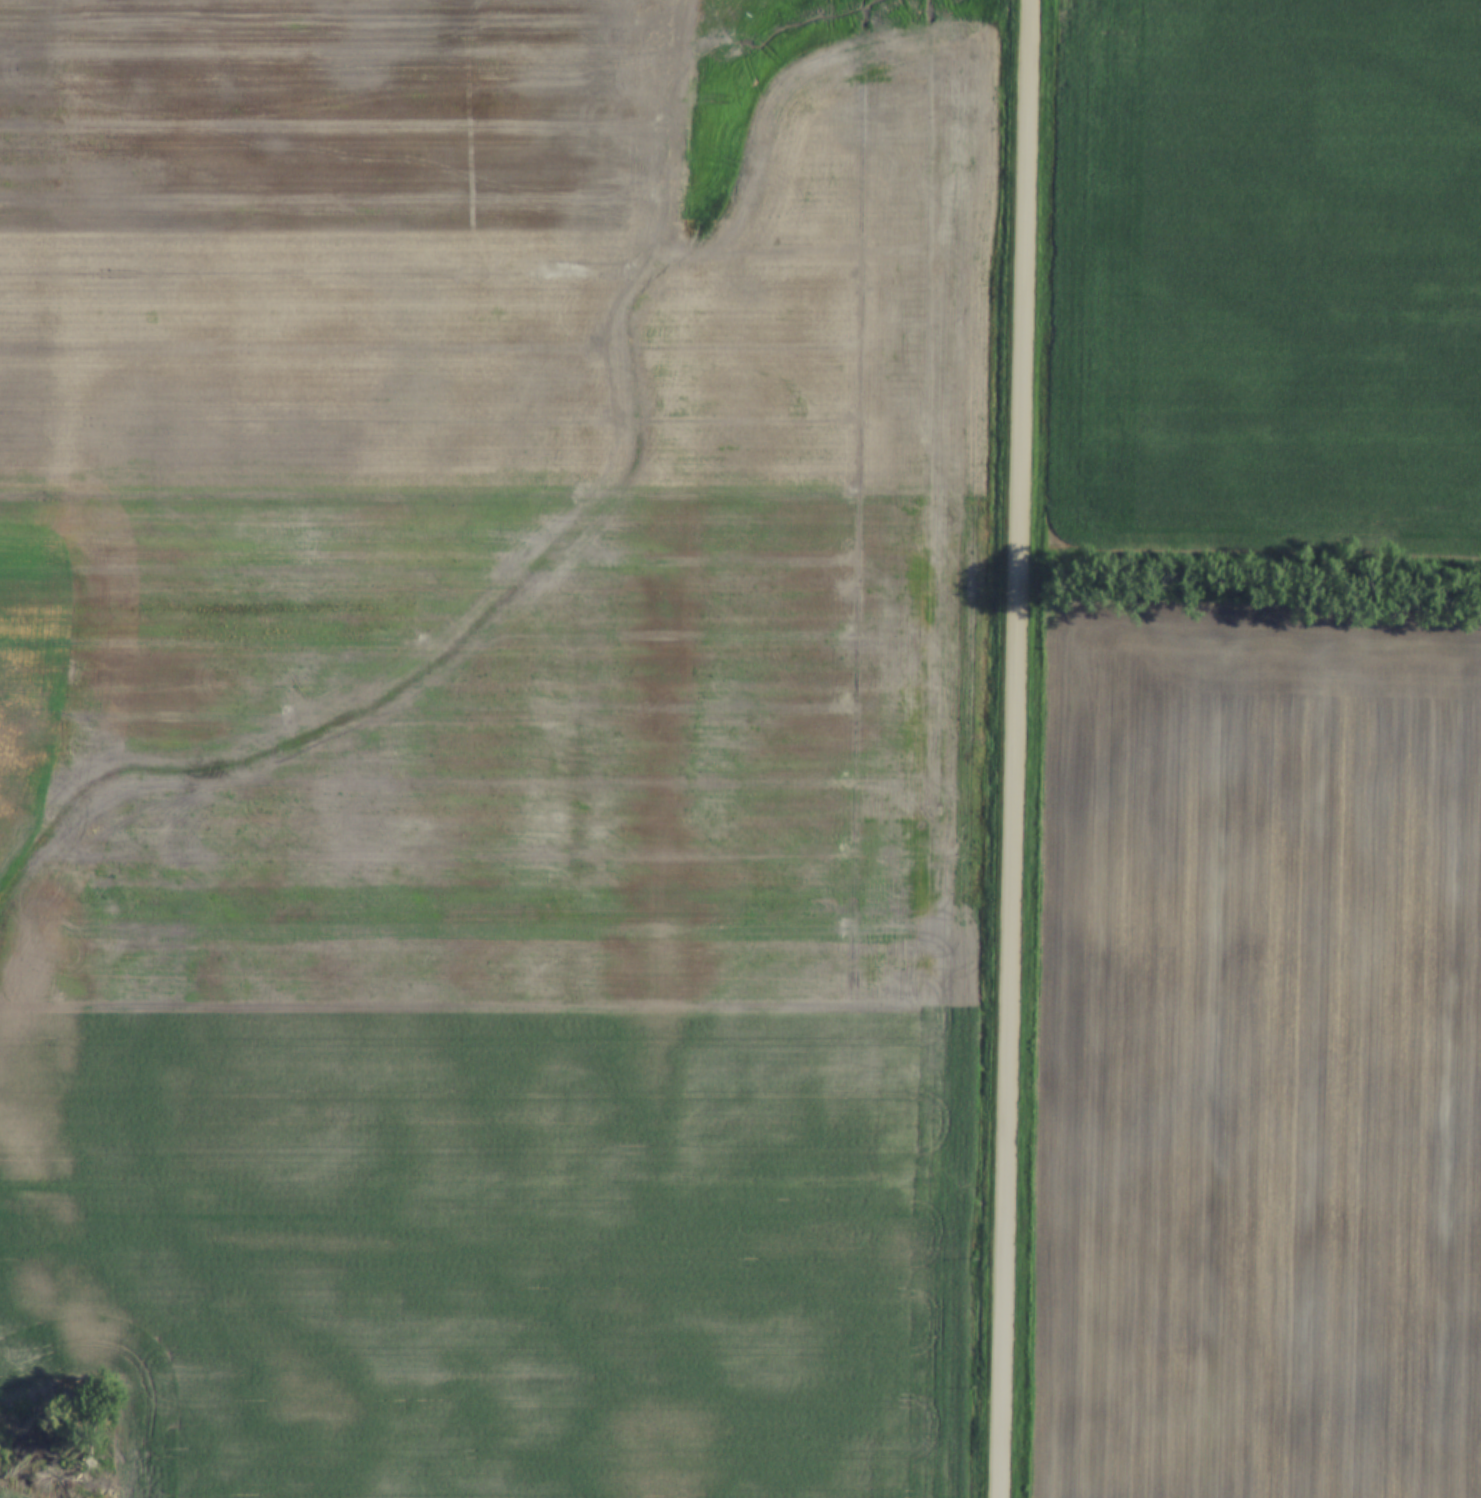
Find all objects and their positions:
road: (1018, 748)

